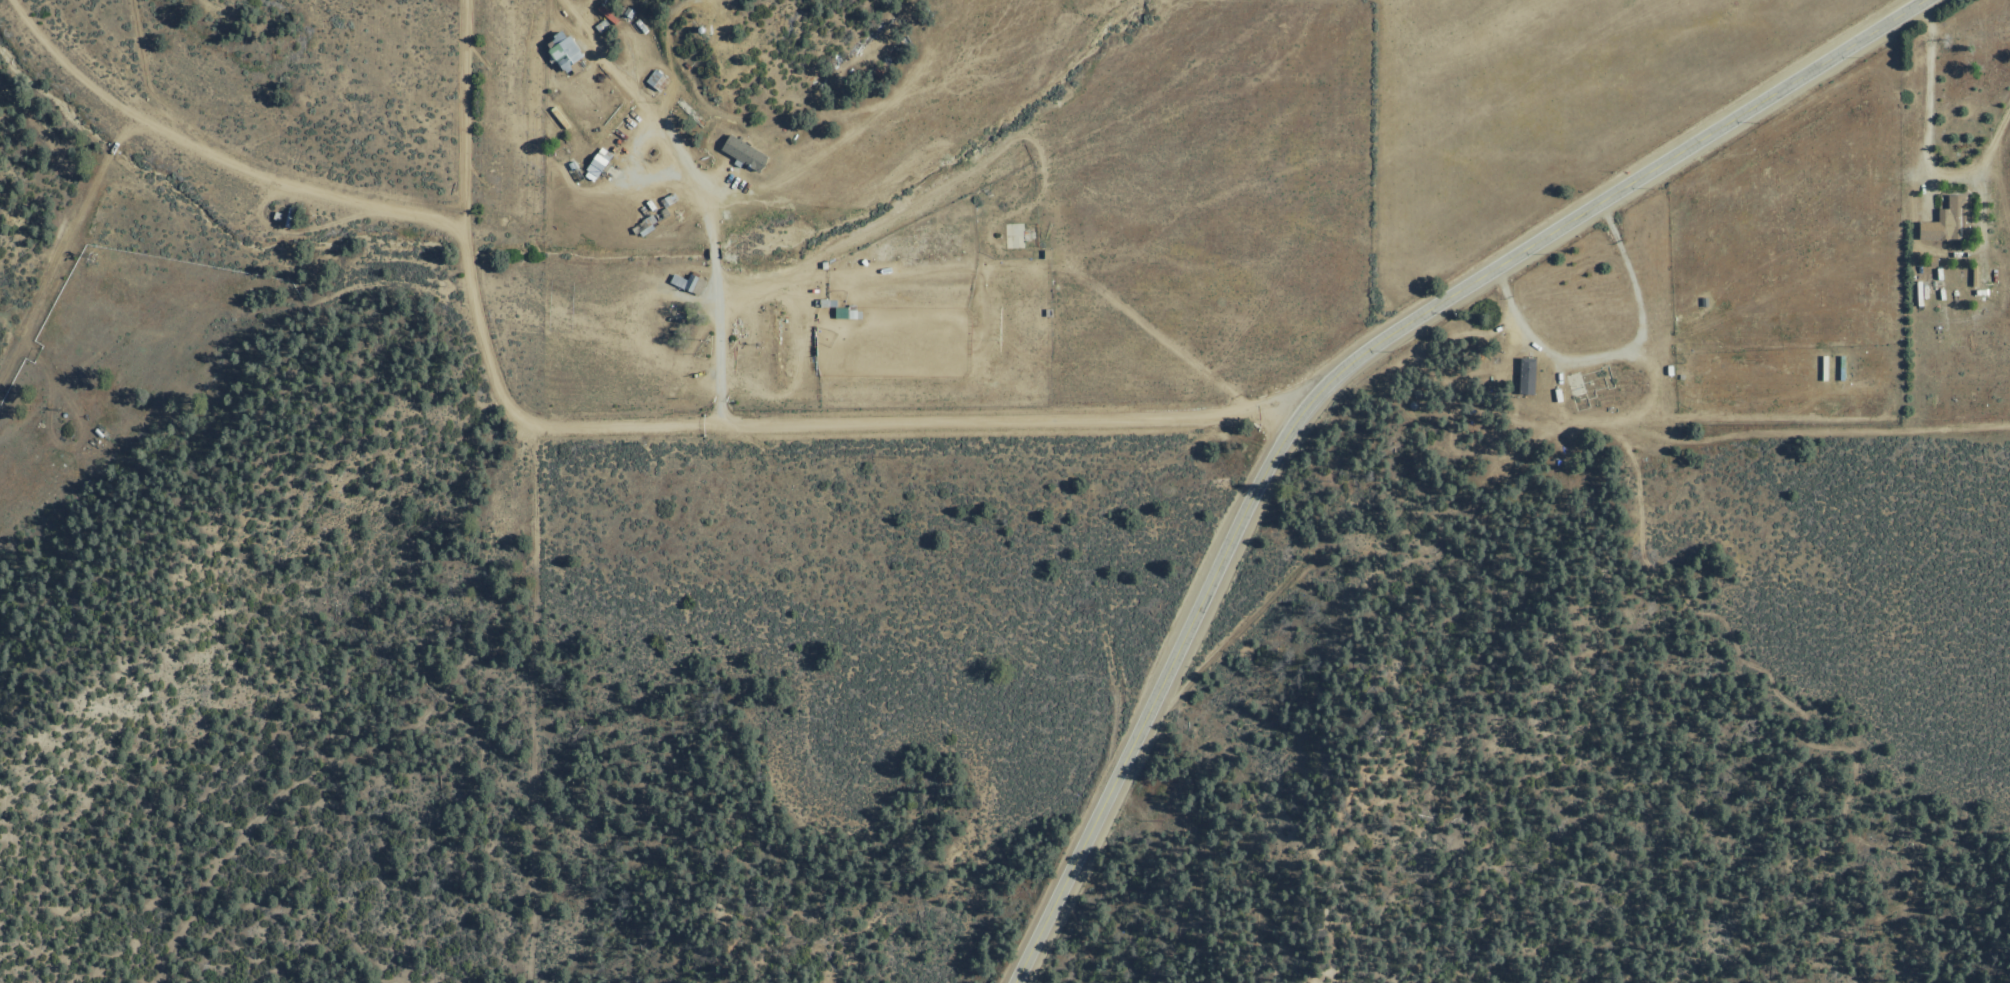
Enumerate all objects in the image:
building: (562, 49)
road: (467, 116)
road: (662, 135)
road: (1921, 147)
building: (743, 150)
building: (596, 161)
building: (571, 170)
road: (1610, 197)
building: (275, 214)
building: (287, 216)
building: (1948, 221)
road: (61, 252)
road: (713, 252)
building: (1045, 253)
building: (687, 281)
building: (839, 311)
road: (1159, 336)
road: (714, 344)
road: (487, 353)
road: (1610, 355)
building: (1526, 374)
road: (1200, 418)
road: (1157, 694)

